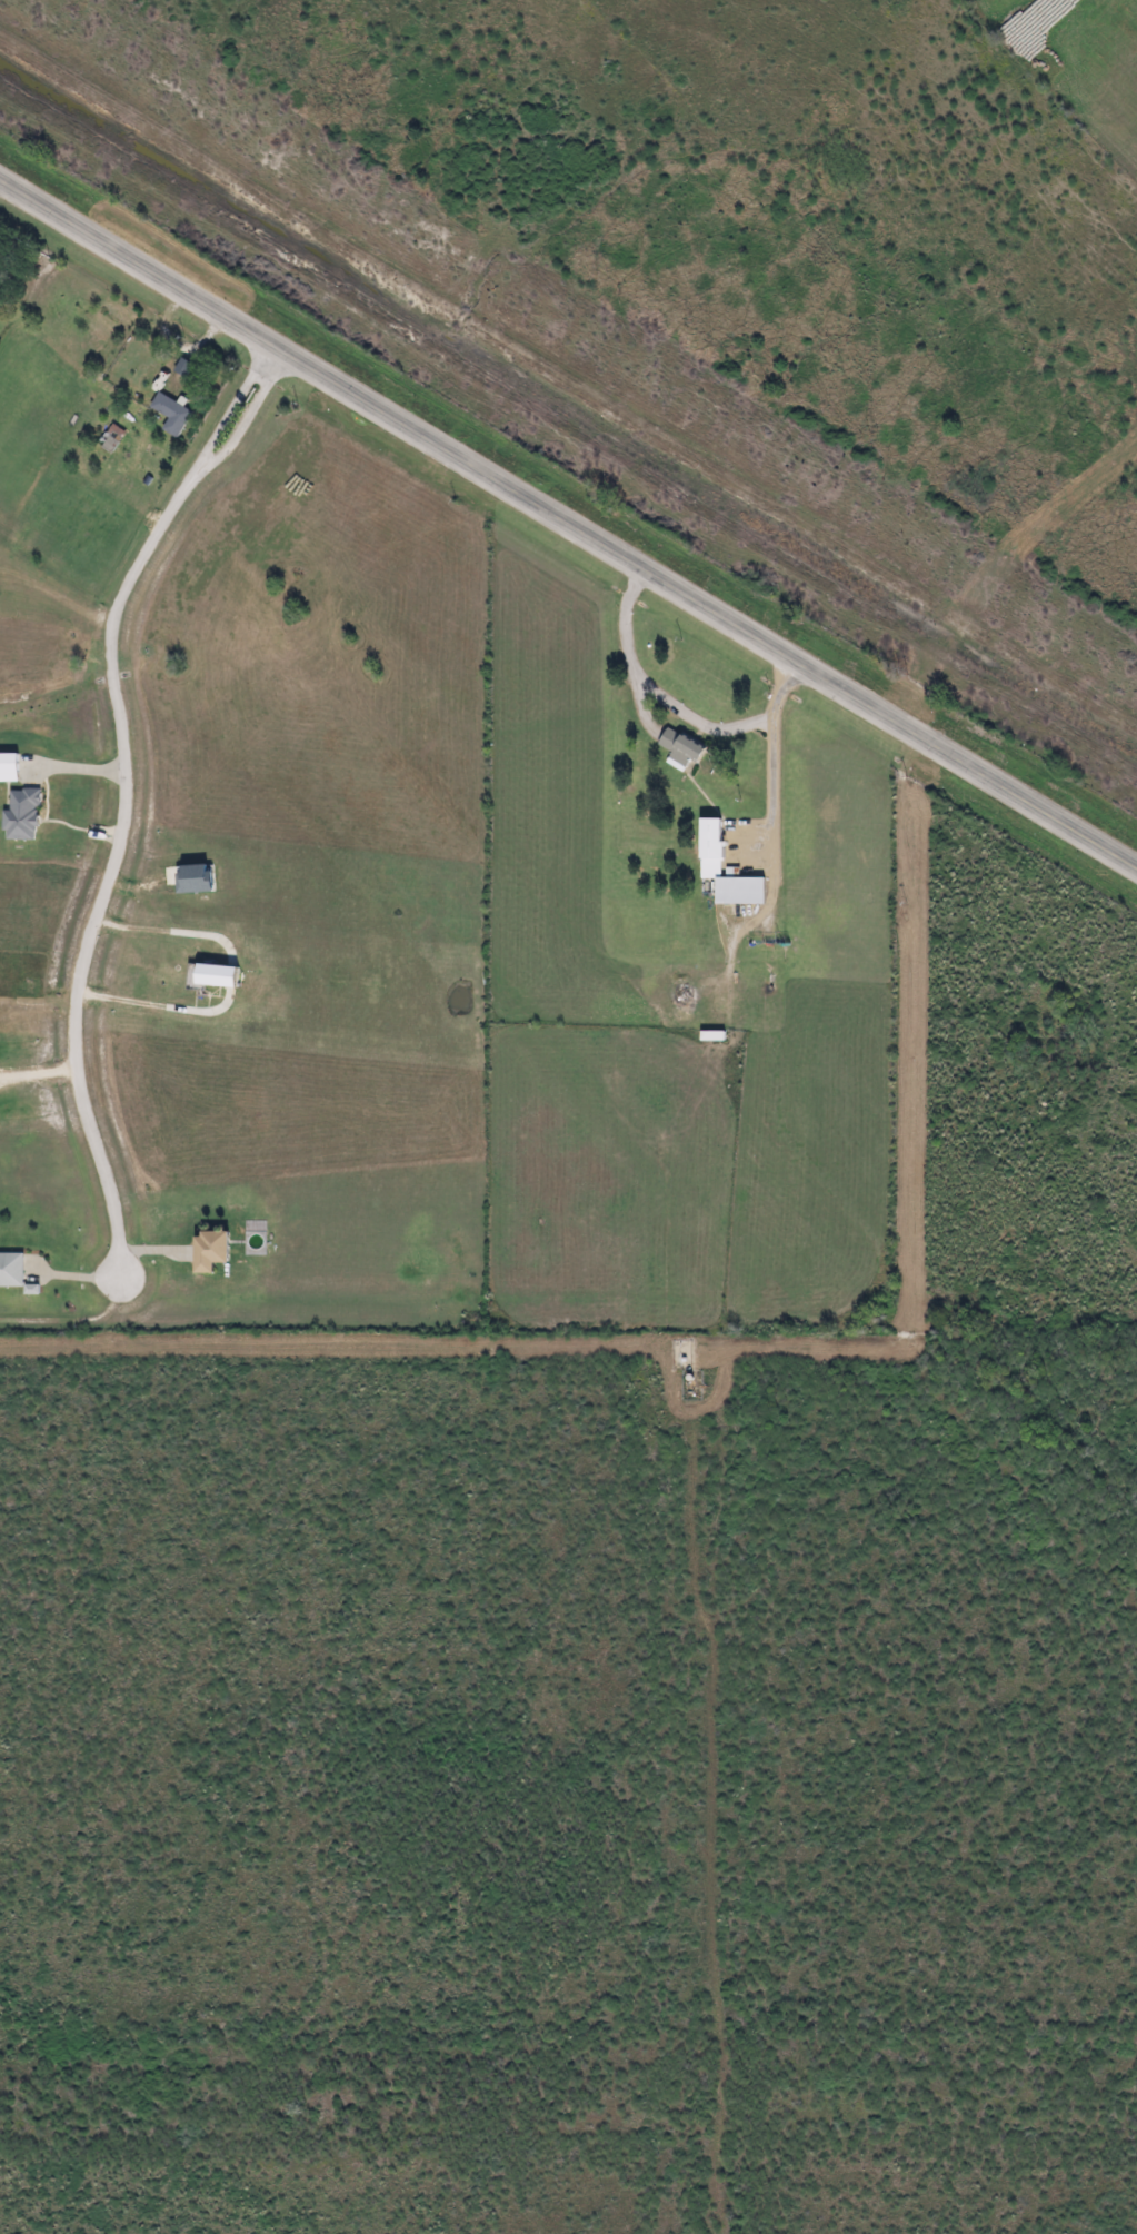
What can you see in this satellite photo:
airport: (1077, 61)
building: (171, 414)
road: (568, 522)
building: (679, 748)
building: (10, 763)
road: (122, 788)
building: (21, 815)
building: (710, 850)
building: (189, 880)
building: (738, 892)
building: (213, 976)
building: (208, 1251)
building: (11, 1270)

